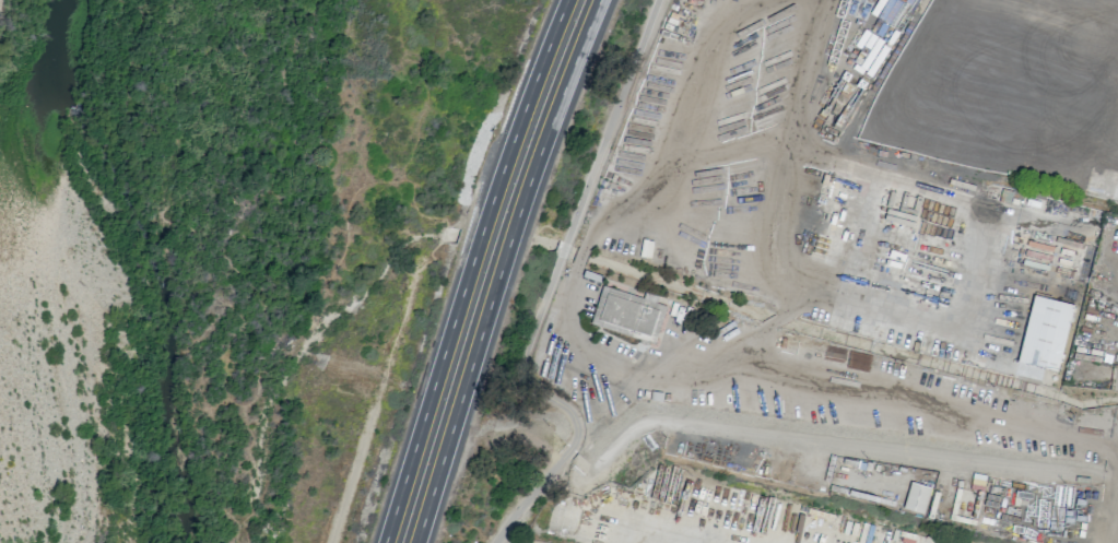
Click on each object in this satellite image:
river: (59, 73)
road: (809, 78)
road: (694, 107)
road: (523, 113)
road: (555, 114)
road: (611, 120)
road: (981, 209)
road: (480, 238)
road: (510, 239)
road: (562, 249)
building: (627, 311)
river: (164, 334)
building: (1043, 338)
road: (431, 396)
road: (462, 396)
road: (558, 403)
road: (941, 405)
building: (916, 497)

